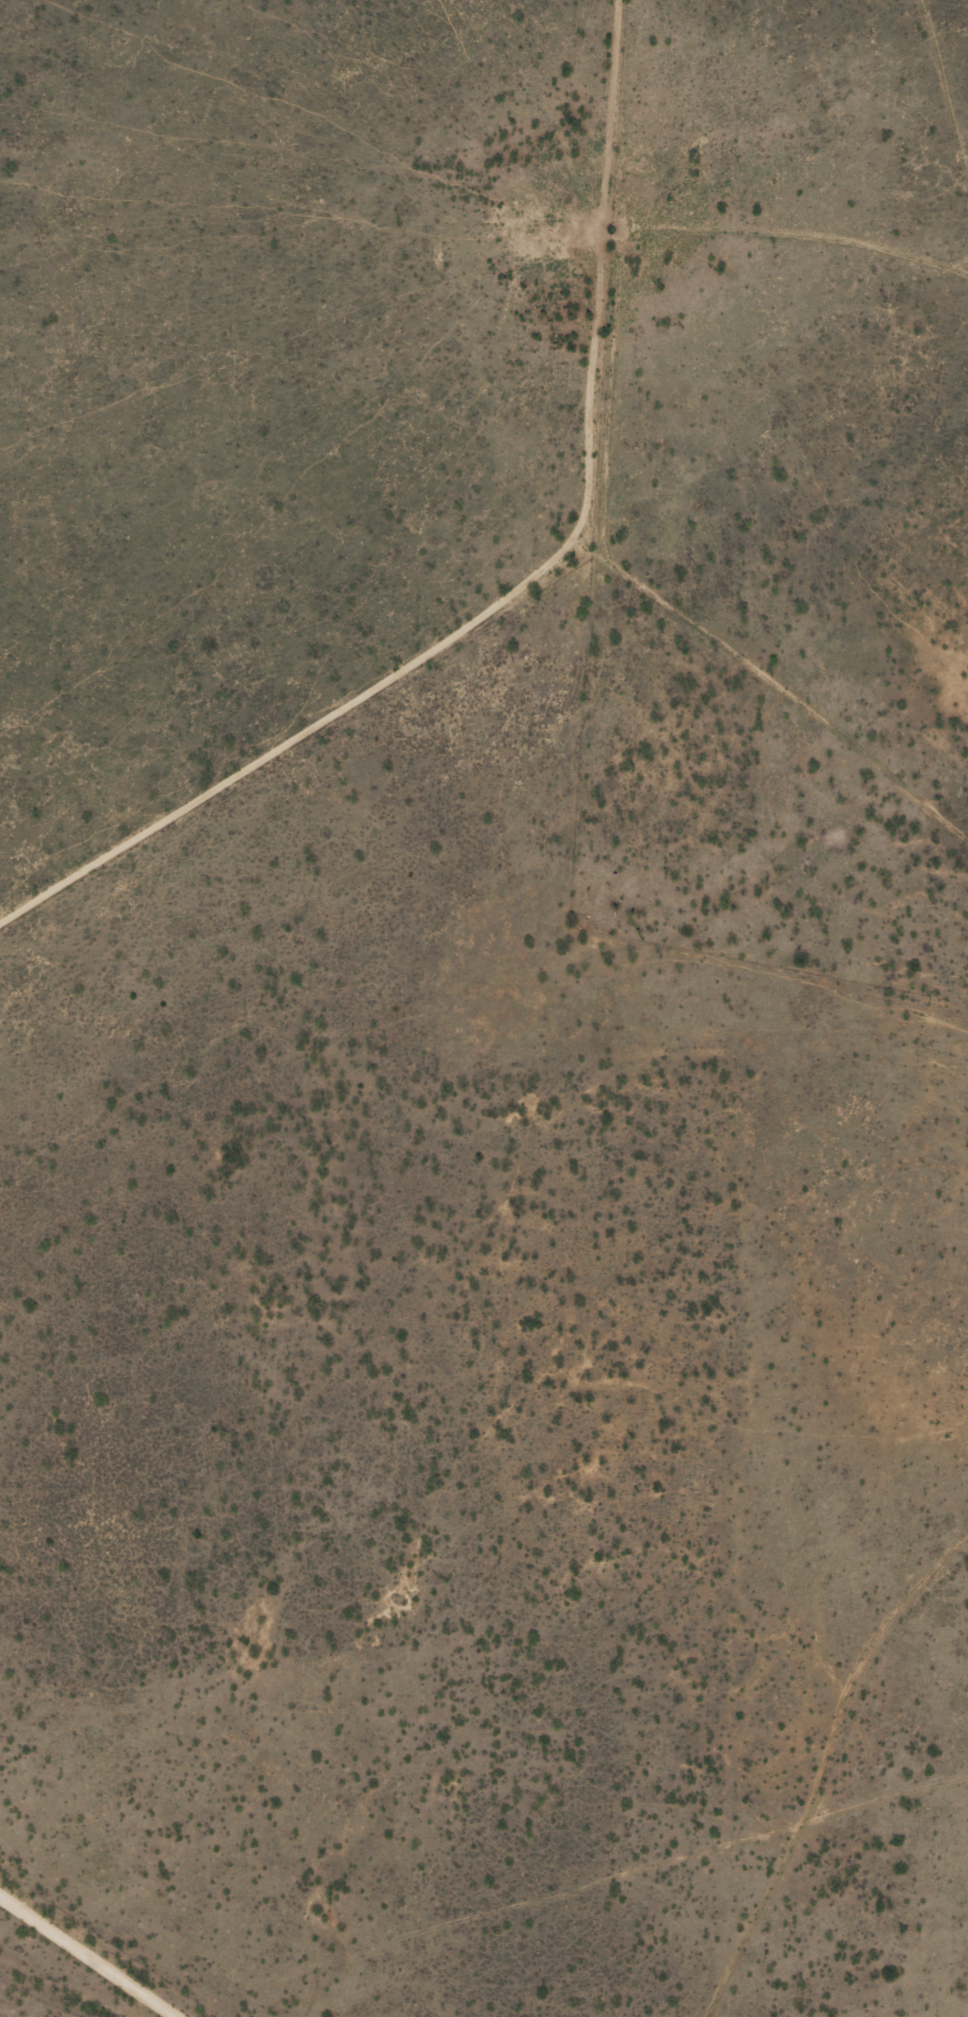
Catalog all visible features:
road: (33, 1996)

